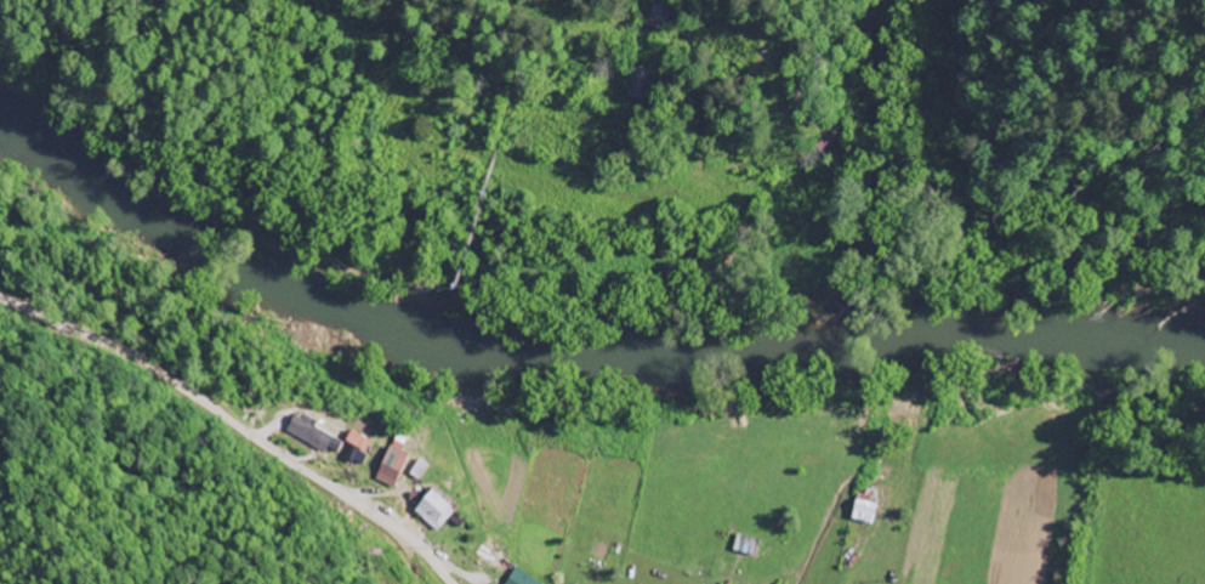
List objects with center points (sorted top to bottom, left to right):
building: (640, 84)
river: (580, 348)
building: (314, 437)
road: (215, 443)
building: (392, 469)
building: (865, 509)
building: (437, 511)
building: (521, 579)

